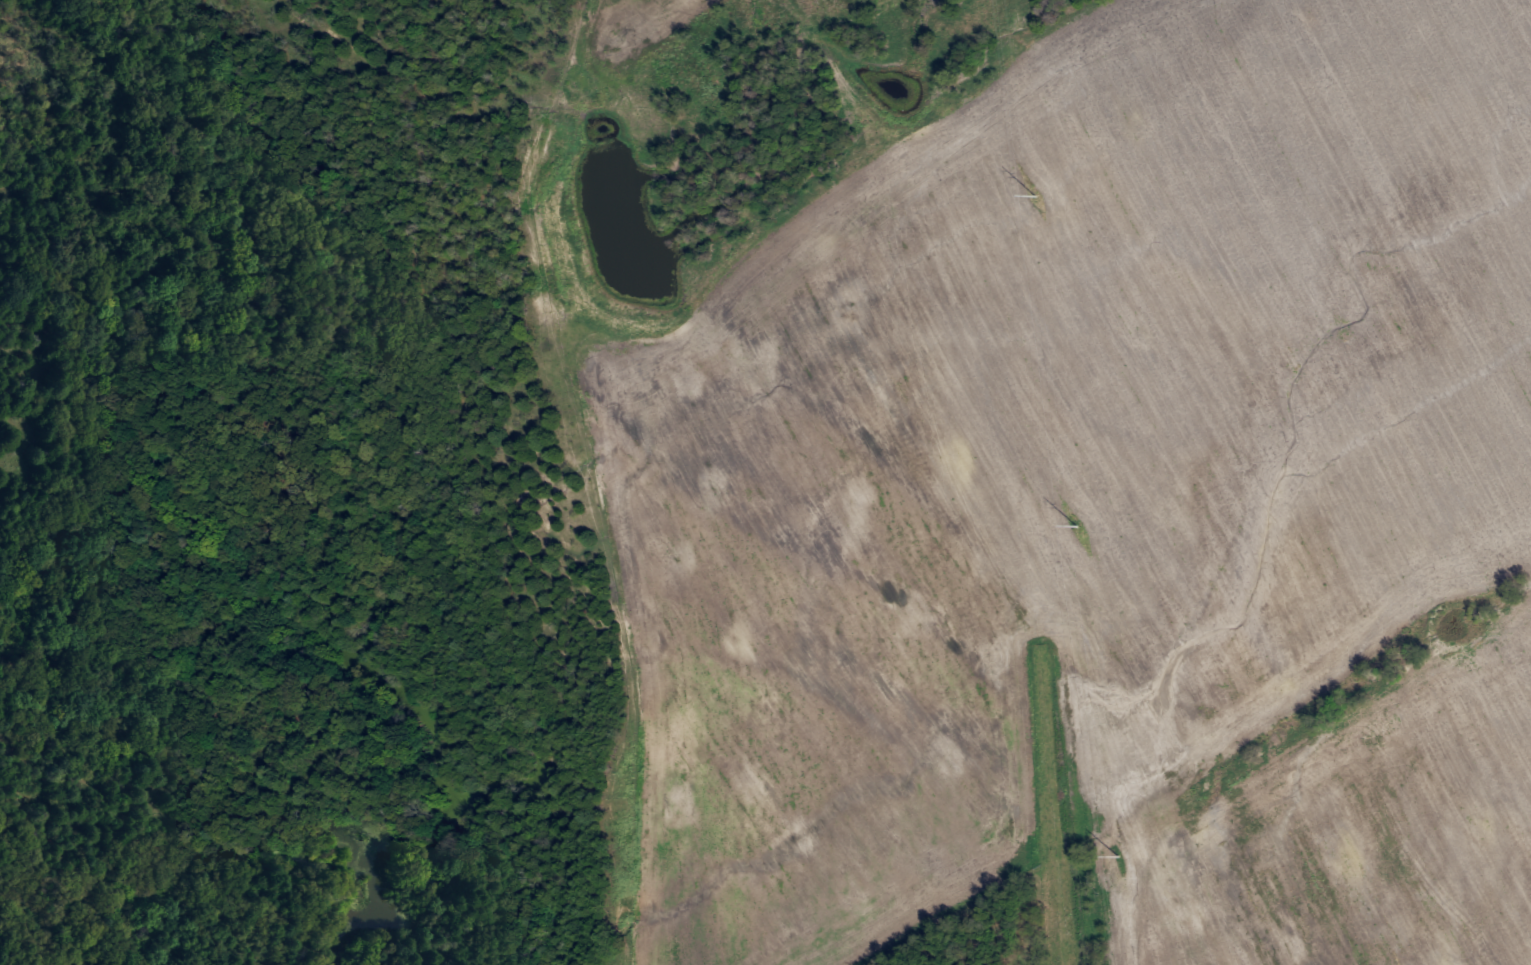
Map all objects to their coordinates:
power tower: (1035, 195)
power tower: (1076, 525)
power tower: (1117, 856)

